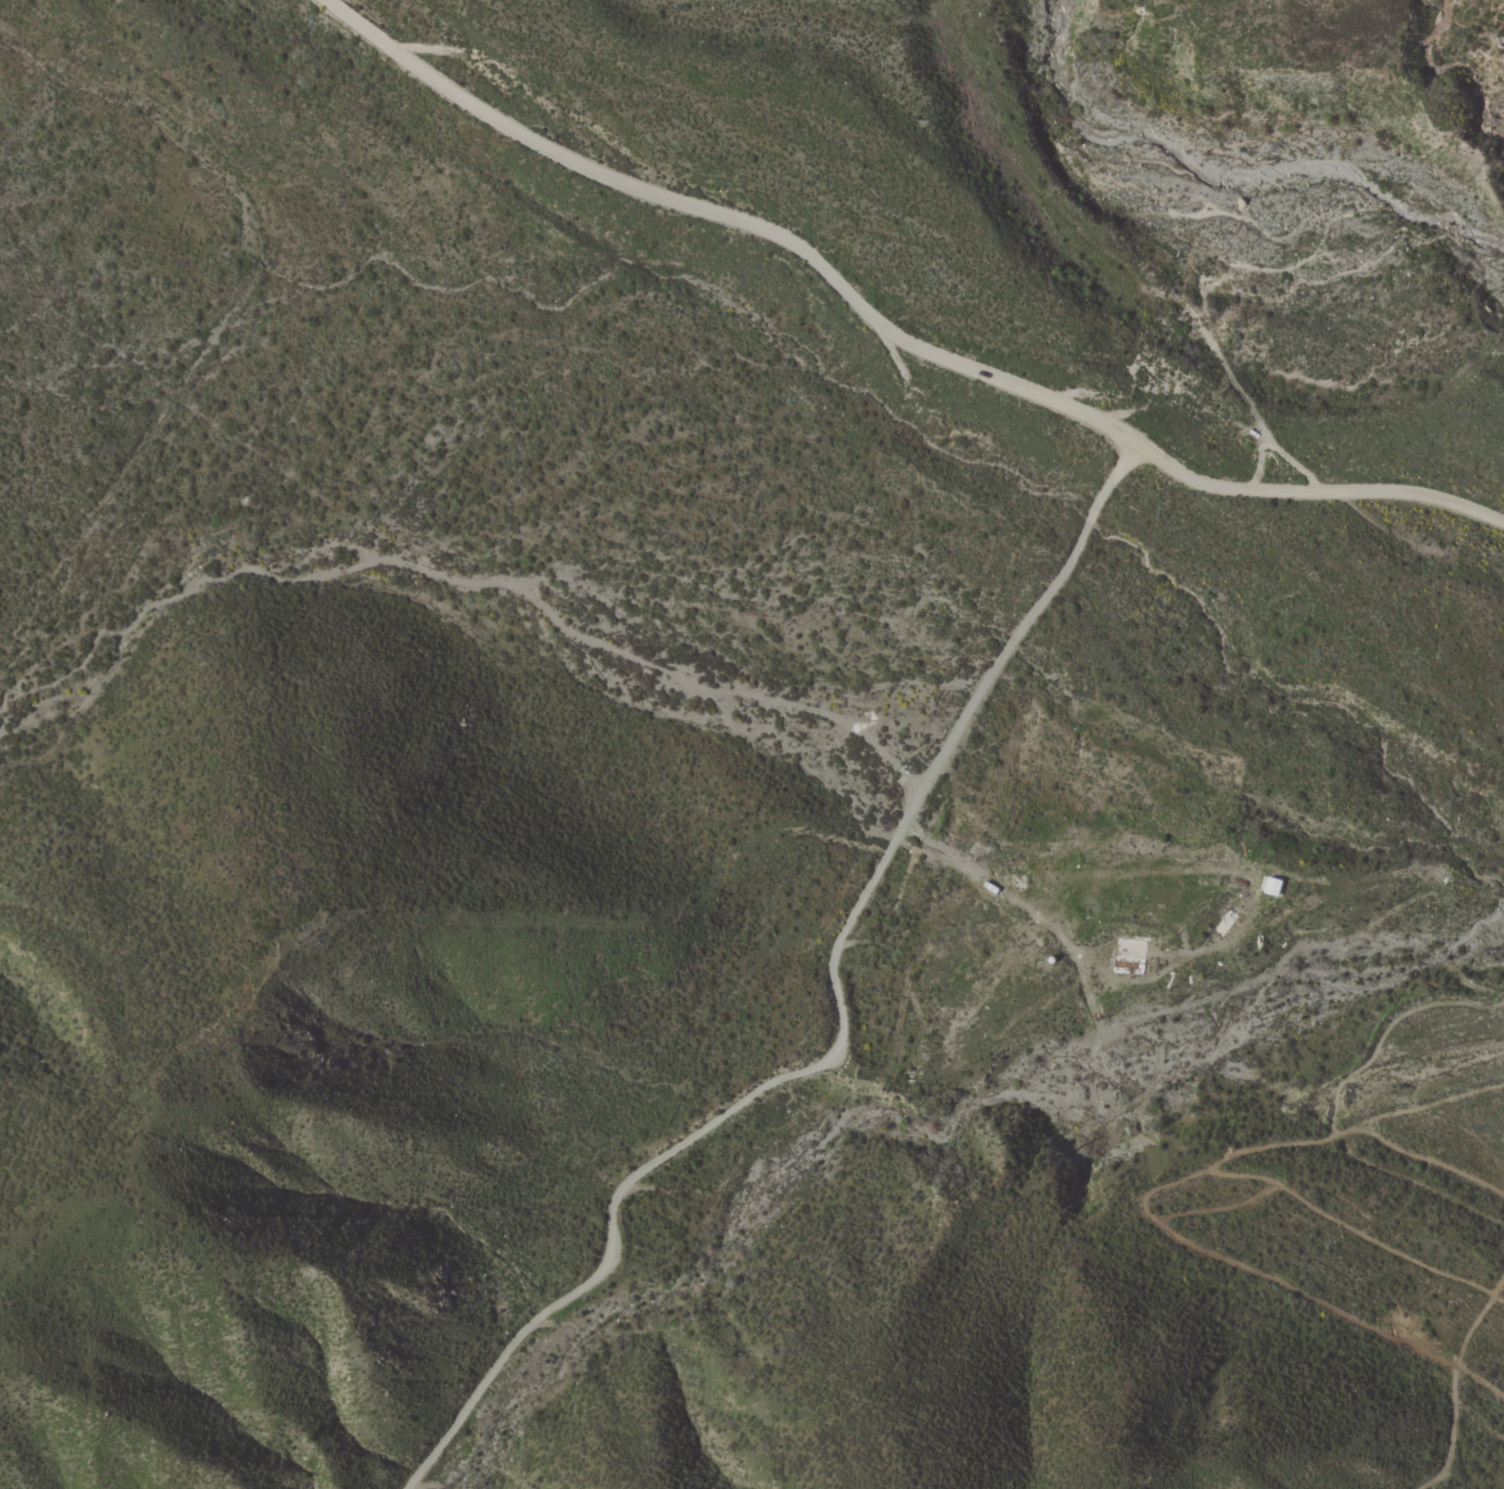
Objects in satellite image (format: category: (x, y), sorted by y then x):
road: (886, 330)
road: (1206, 947)
road: (838, 1026)

